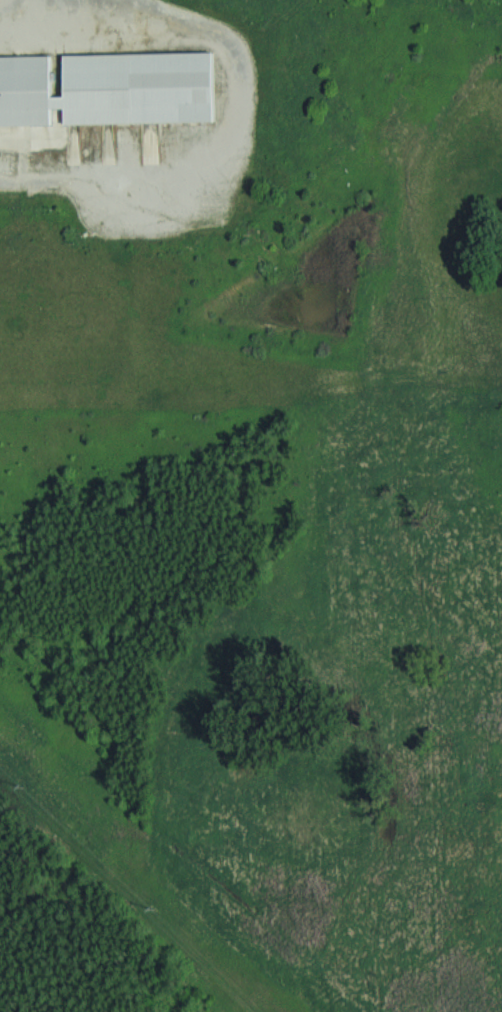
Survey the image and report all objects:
building: (105, 87)

